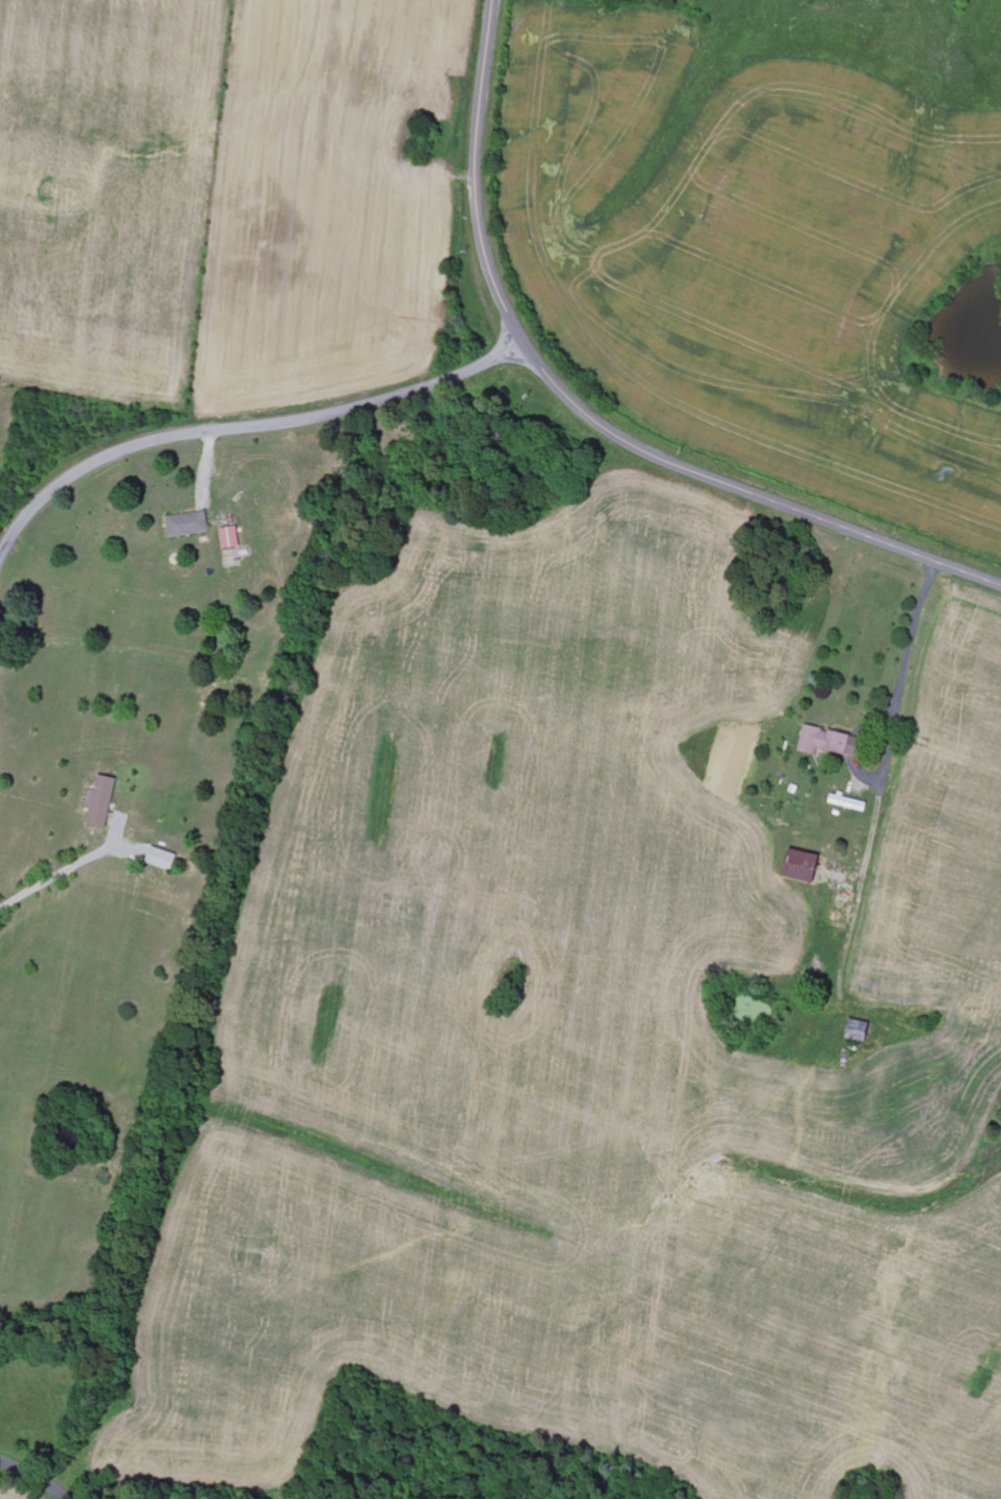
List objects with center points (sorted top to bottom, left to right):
road: (477, 176)
road: (243, 427)
road: (746, 491)
building: (190, 525)
building: (232, 538)
building: (829, 742)
building: (105, 802)
building: (850, 803)
building: (165, 859)
building: (807, 867)
road: (36, 1476)

